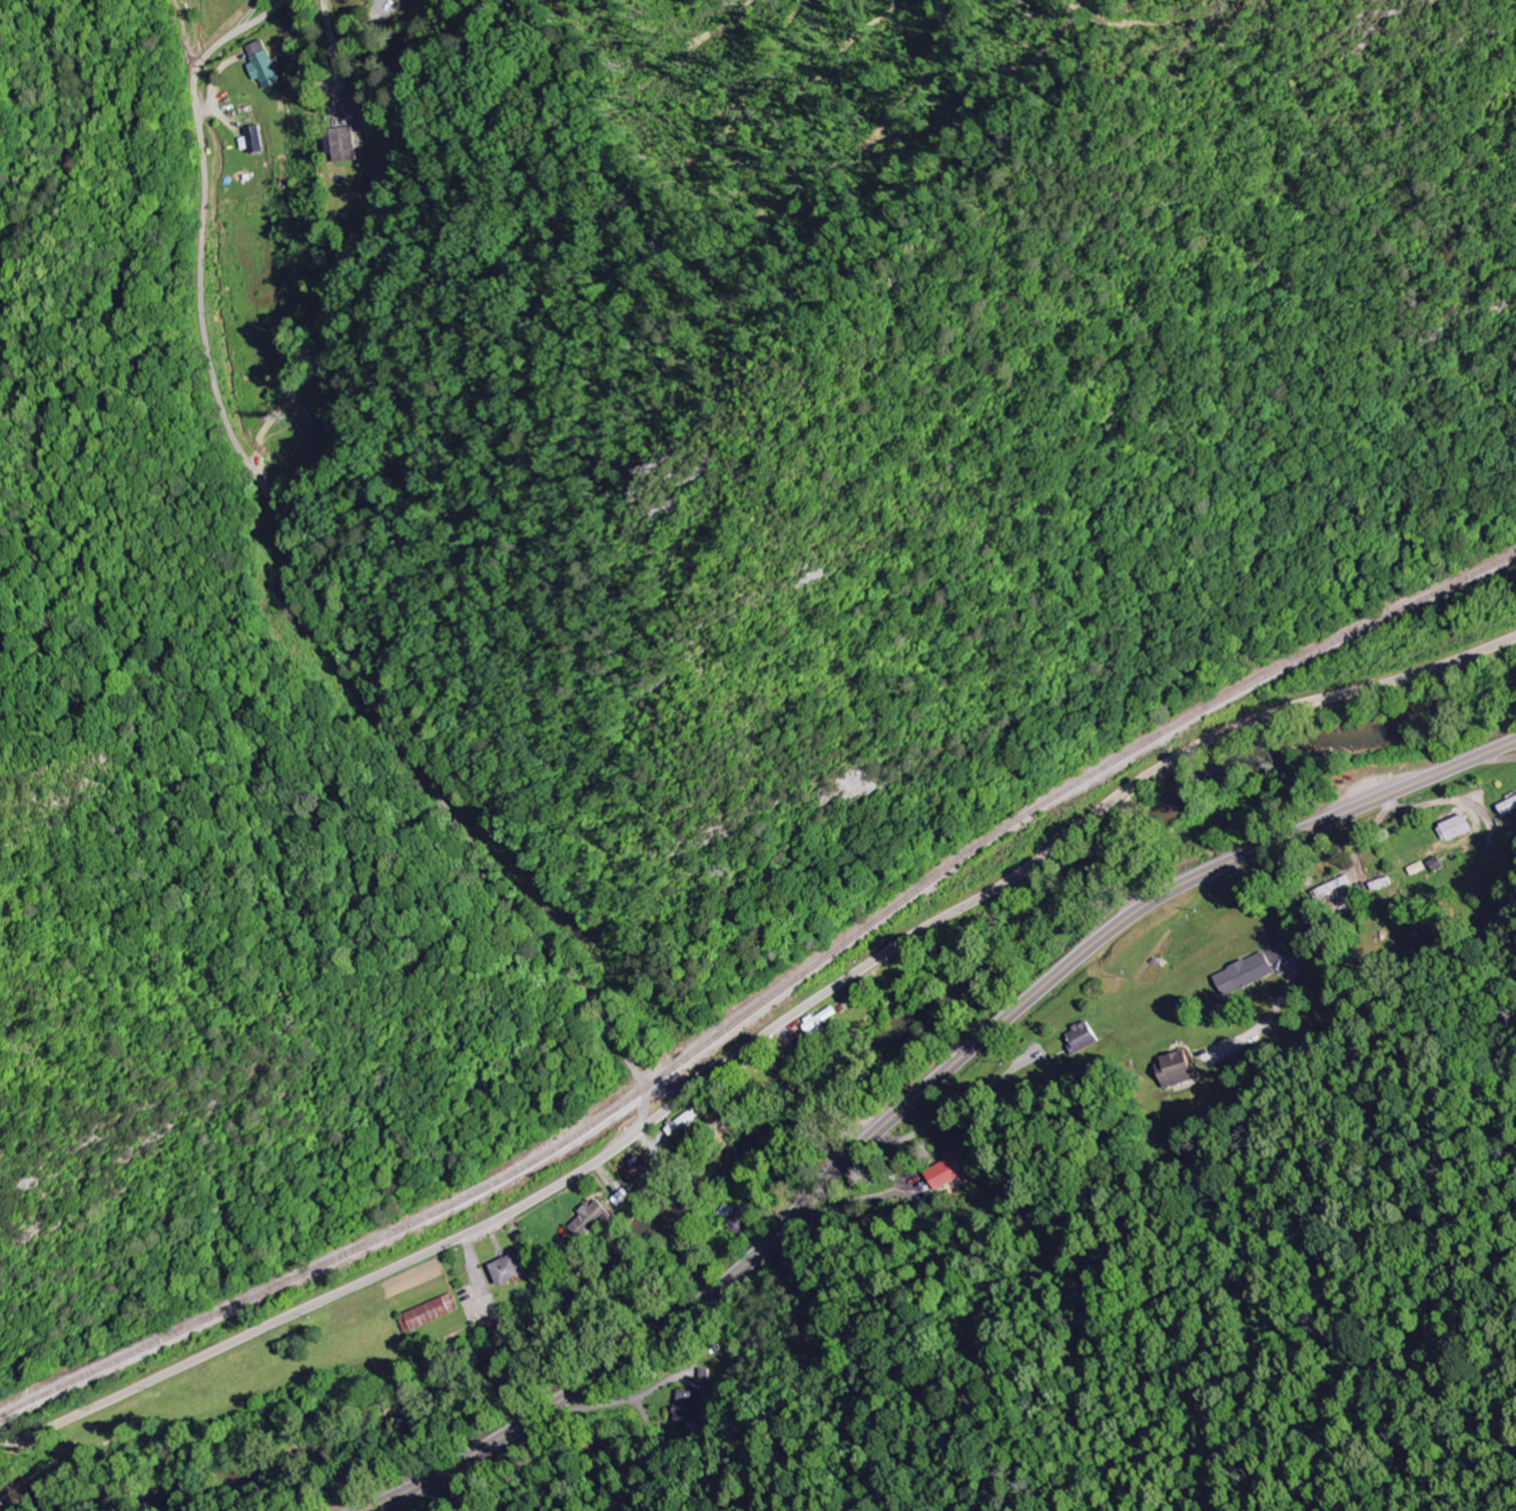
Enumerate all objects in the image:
building: (405, 0)
building: (264, 66)
building: (249, 142)
building: (346, 145)
road: (206, 311)
building: (312, 426)
road: (1496, 759)
building: (1507, 805)
building: (1458, 828)
road: (1372, 831)
road: (464, 841)
building: (1333, 888)
building: (1246, 974)
railway: (766, 998)
building: (819, 1022)
road: (758, 1037)
building: (1085, 1038)
building: (1180, 1069)
road: (641, 1079)
road: (918, 1096)
road: (643, 1111)
building: (681, 1123)
building: (639, 1169)
building: (954, 1169)
building: (740, 1219)
building: (590, 1220)
building: (508, 1270)
building: (428, 1314)
building: (493, 1326)
building: (689, 1410)

